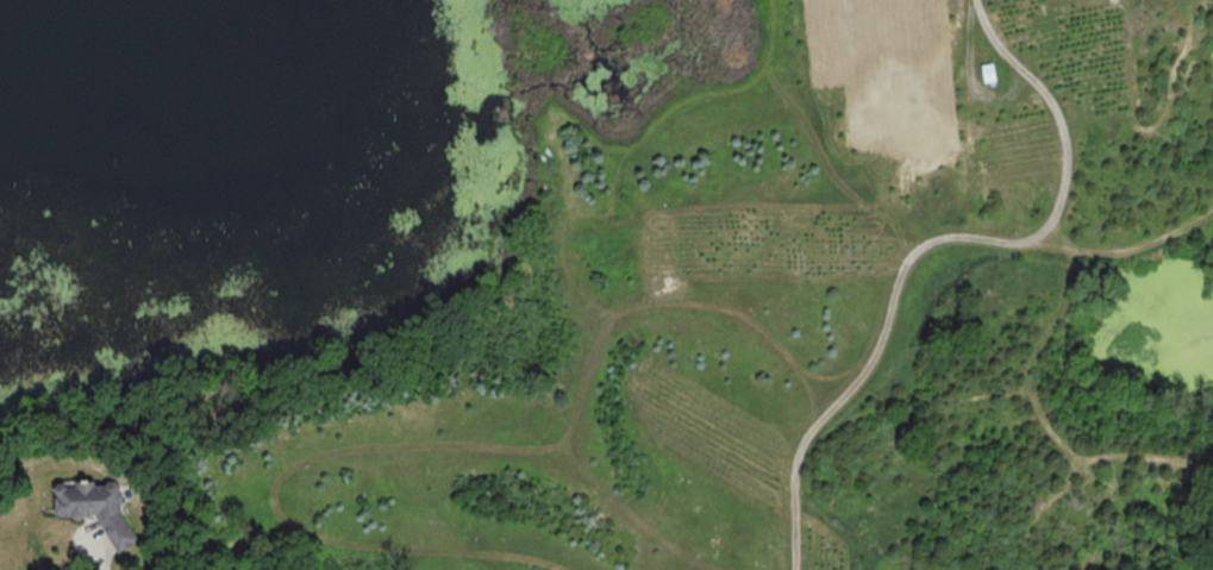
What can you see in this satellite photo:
road: (943, 243)
building: (102, 507)
road: (104, 560)

